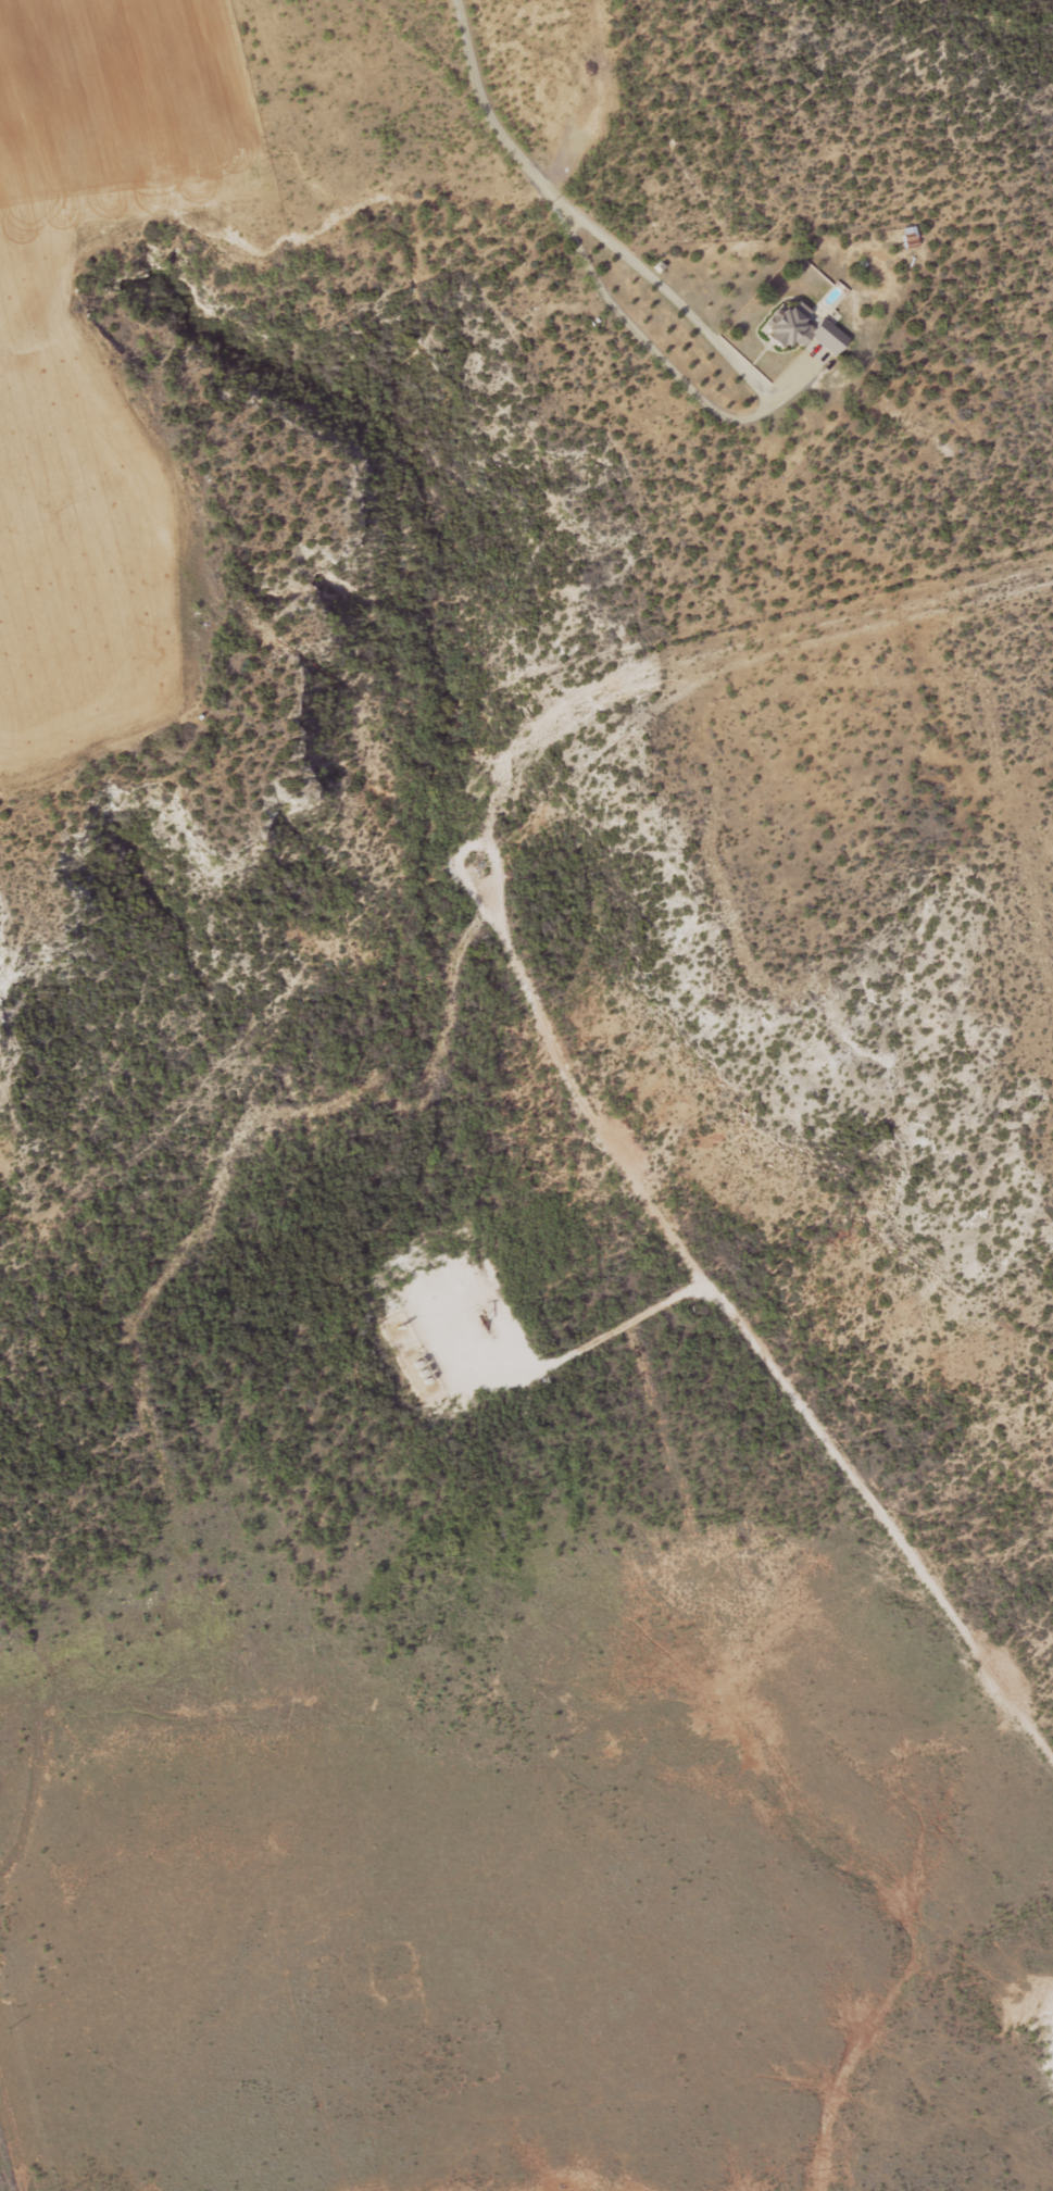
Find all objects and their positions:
road: (481, 108)
building: (911, 235)
building: (802, 329)
road: (753, 412)

